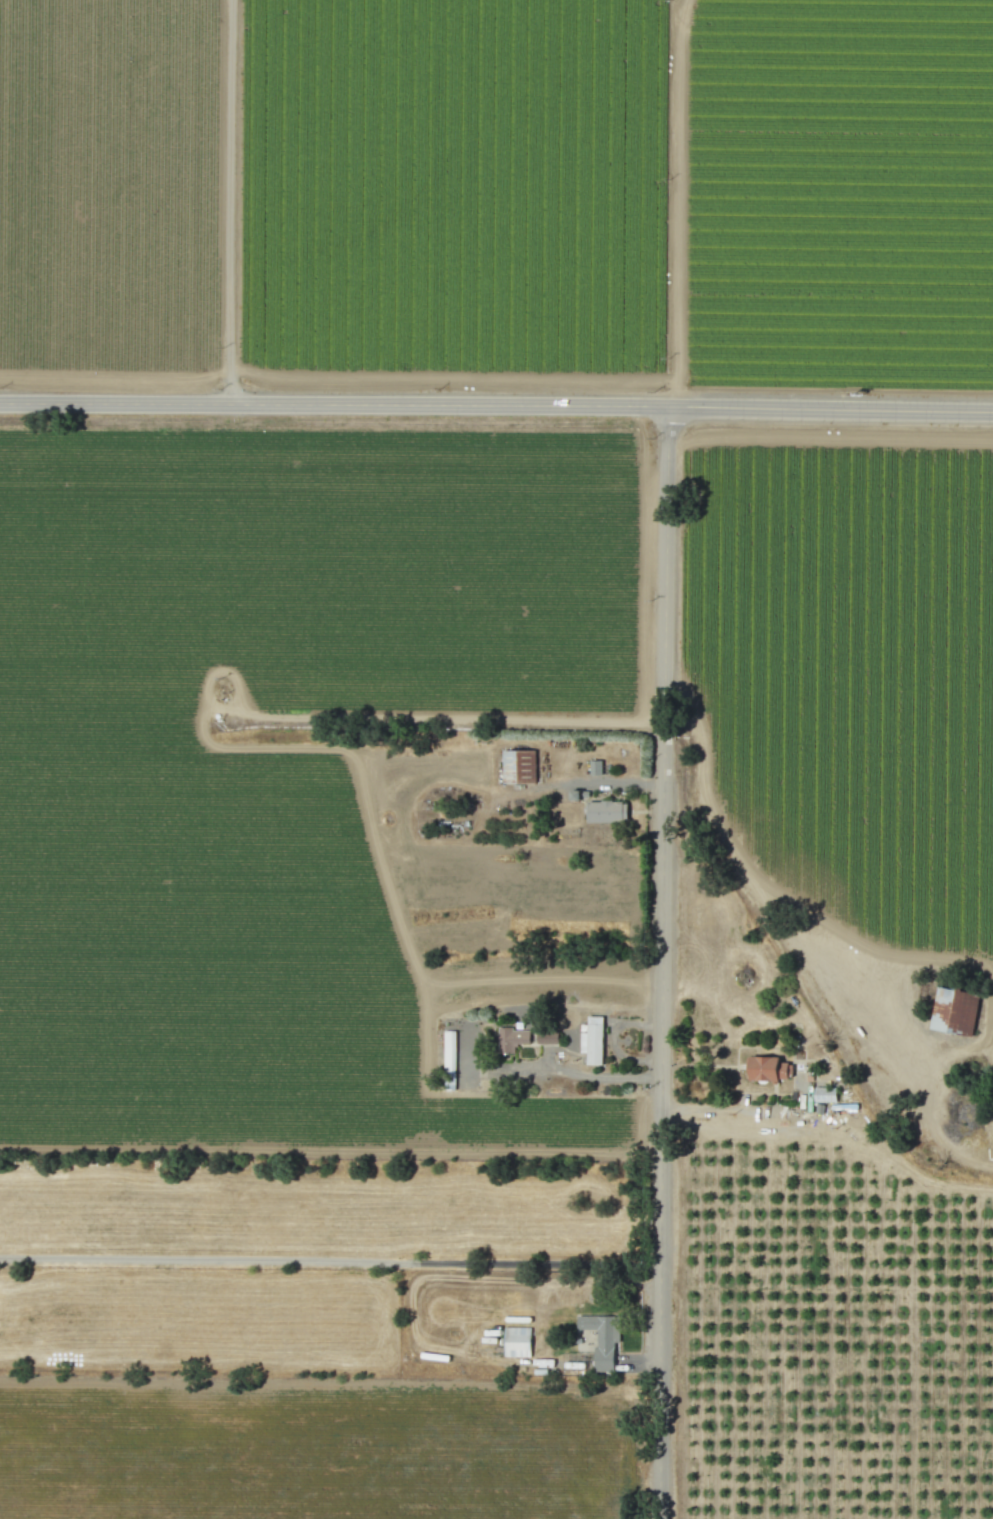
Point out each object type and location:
road: (230, 202)
road: (496, 406)
building: (518, 767)
building: (595, 768)
road: (616, 782)
building: (606, 812)
road: (736, 855)
road: (669, 963)
building: (954, 1011)
building: (547, 1038)
building: (511, 1039)
building: (592, 1041)
building: (449, 1060)
building: (768, 1069)
road: (591, 1076)
building: (824, 1094)
road: (730, 1109)
road: (333, 1261)
building: (602, 1339)
building: (517, 1342)
crop: (318, 1448)

